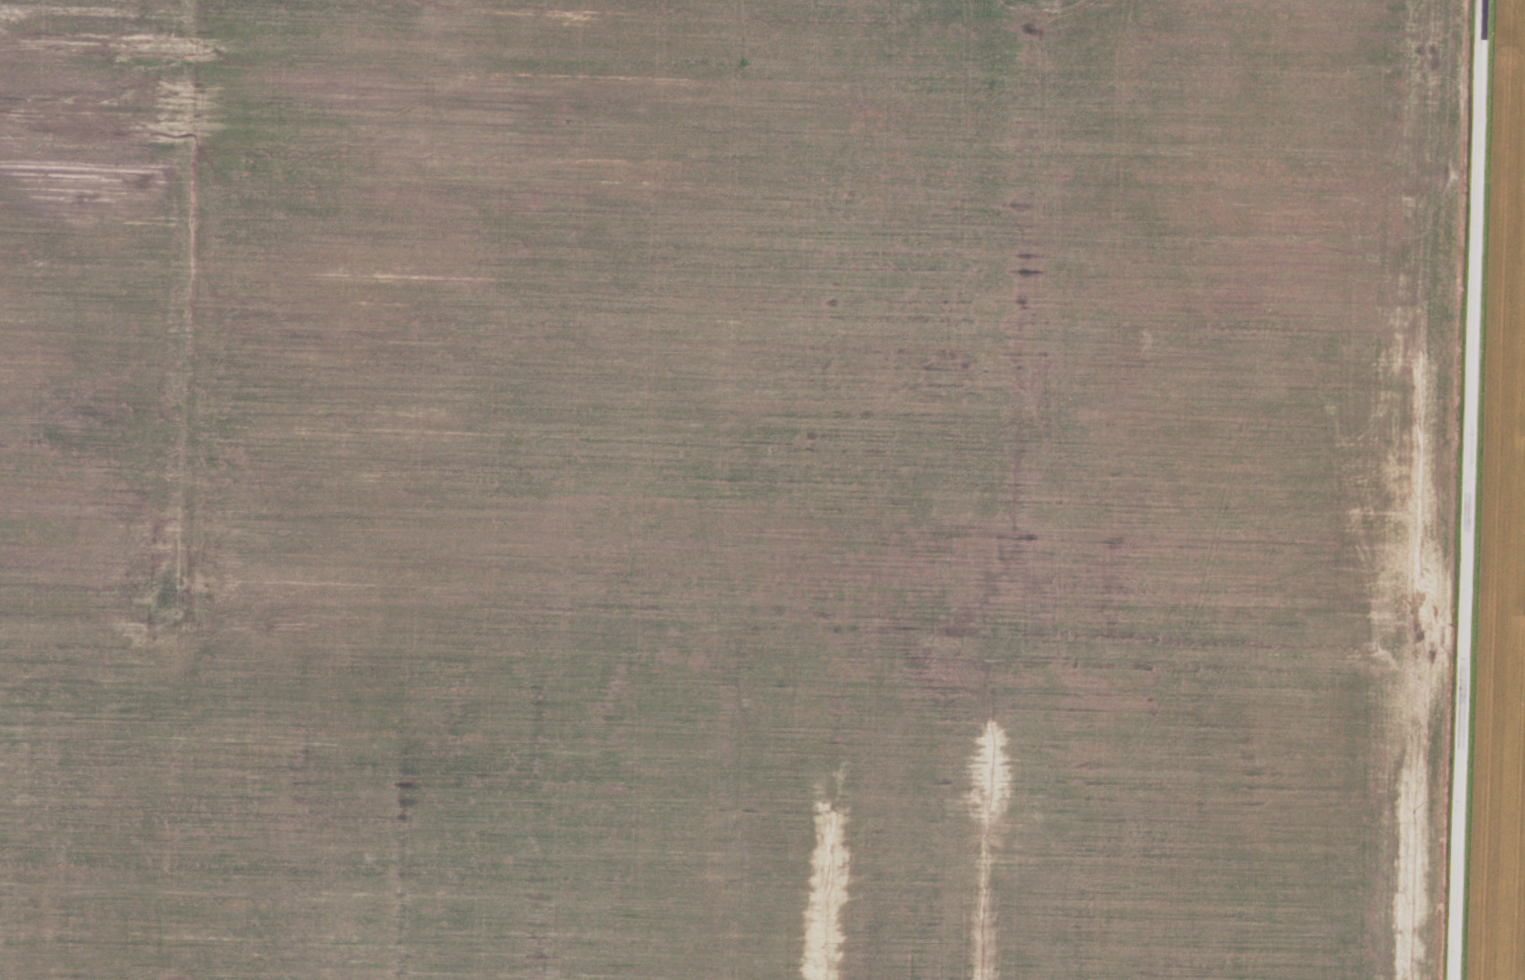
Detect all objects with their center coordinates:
road: (1471, 490)

